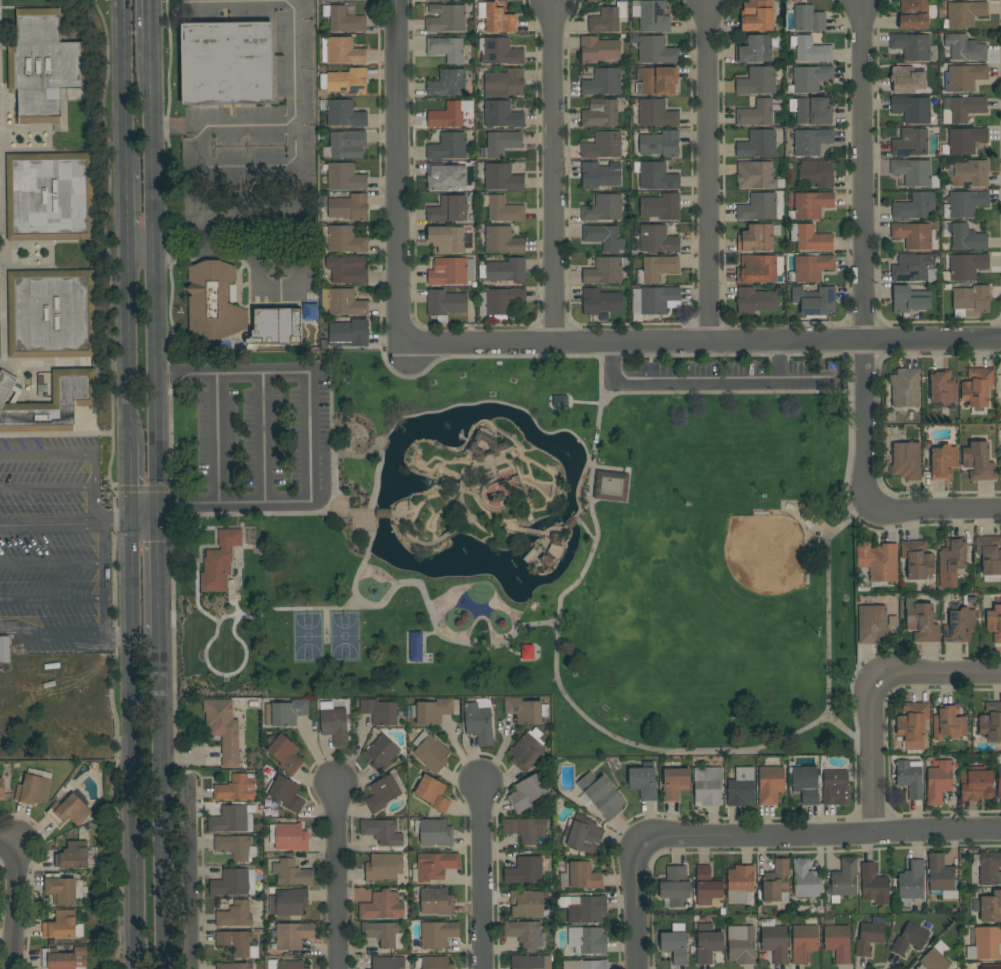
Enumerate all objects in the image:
building: (343, 0)
building: (437, 0)
building: (915, 14)
building: (965, 14)
building: (757, 15)
building: (651, 16)
building: (445, 18)
building: (496, 18)
building: (343, 19)
building: (607, 19)
building: (808, 19)
road: (151, 31)
building: (912, 46)
building: (964, 48)
building: (447, 49)
building: (756, 49)
building: (598, 50)
building: (656, 50)
building: (810, 50)
building: (343, 51)
building: (499, 51)
building: (226, 63)
building: (43, 65)
building: (906, 78)
building: (964, 78)
building: (809, 79)
building: (659, 80)
building: (347, 81)
building: (758, 81)
building: (449, 82)
building: (602, 82)
building: (504, 83)
road: (124, 84)
building: (912, 109)
building: (962, 109)
building: (813, 111)
building: (759, 112)
building: (600, 113)
building: (654, 113)
building: (344, 114)
building: (449, 114)
building: (501, 114)
road: (284, 124)
building: (809, 141)
building: (964, 141)
building: (910, 143)
building: (501, 144)
building: (660, 144)
building: (758, 144)
building: (345, 145)
building: (603, 145)
building: (448, 146)
road: (862, 170)
road: (708, 171)
building: (913, 171)
road: (397, 172)
road: (552, 172)
building: (972, 173)
building: (817, 174)
building: (600, 175)
building: (755, 175)
building: (655, 176)
building: (344, 177)
building: (444, 177)
building: (502, 178)
building: (50, 196)
building: (964, 204)
building: (811, 205)
building: (914, 206)
road: (126, 207)
building: (349, 207)
building: (661, 207)
building: (759, 207)
building: (603, 208)
building: (448, 209)
building: (504, 210)
building: (915, 236)
building: (604, 237)
building: (757, 238)
building: (810, 238)
building: (967, 238)
building: (446, 239)
building: (657, 239)
building: (343, 240)
building: (502, 240)
road: (210, 244)
building: (810, 267)
building: (965, 267)
building: (656, 268)
building: (914, 268)
building: (347, 269)
building: (759, 269)
building: (504, 271)
building: (605, 271)
building: (452, 272)
road: (155, 293)
building: (655, 299)
building: (909, 300)
building: (213, 301)
building: (601, 301)
building: (755, 301)
building: (971, 301)
building: (343, 302)
building: (499, 302)
building: (818, 302)
building: (445, 303)
building: (51, 314)
building: (275, 327)
building: (349, 333)
road: (700, 342)
road: (128, 347)
road: (805, 355)
road: (540, 356)
road: (665, 356)
road: (167, 386)
building: (942, 387)
building: (977, 387)
building: (905, 388)
building: (42, 391)
building: (74, 391)
road: (497, 402)
road: (310, 436)
road: (218, 438)
road: (264, 438)
building: (498, 446)
road: (424, 447)
road: (80, 455)
road: (499, 459)
building: (906, 461)
building: (978, 461)
building: (943, 462)
road: (551, 474)
road: (541, 482)
road: (130, 485)
road: (333, 485)
building: (611, 486)
road: (47, 489)
road: (863, 492)
road: (541, 495)
building: (496, 498)
building: (383, 513)
road: (383, 514)
road: (52, 523)
road: (132, 524)
road: (571, 525)
road: (528, 530)
road: (553, 530)
park: (524, 540)
road: (428, 543)
parking lot: (51, 545)
park: (766, 553)
building: (989, 554)
building: (545, 558)
building: (917, 559)
building: (219, 561)
building: (951, 561)
building: (883, 563)
road: (53, 564)
road: (160, 568)
road: (53, 598)
road: (828, 604)
building: (921, 621)
building: (994, 623)
building: (872, 624)
building: (959, 624)
road: (106, 634)
park: (345, 636)
road: (118, 637)
park: (308, 637)
road: (452, 639)
building: (4, 649)
building: (216, 652)
road: (945, 674)
building: (431, 711)
building: (526, 711)
building: (285, 712)
building: (379, 712)
building: (479, 721)
building: (991, 721)
building: (948, 722)
building: (333, 724)
building: (912, 724)
building: (223, 729)
road: (131, 746)
road: (871, 749)
building: (525, 752)
building: (284, 753)
building: (382, 753)
building: (432, 753)
building: (910, 778)
building: (643, 781)
building: (939, 782)
building: (999, 782)
building: (674, 783)
building: (805, 783)
building: (770, 785)
building: (707, 786)
building: (977, 786)
building: (34, 787)
building: (741, 787)
building: (236, 788)
building: (835, 788)
building: (2, 789)
road: (163, 790)
building: (528, 792)
building: (382, 793)
building: (432, 793)
building: (286, 794)
building: (601, 795)
building: (70, 809)
building: (229, 819)
building: (526, 829)
building: (382, 831)
building: (434, 832)
road: (812, 835)
building: (288, 837)
building: (584, 837)
road: (7, 844)
building: (236, 848)
building: (73, 856)
building: (435, 866)
building: (383, 867)
building: (988, 868)
building: (524, 870)
building: (292, 873)
road: (190, 874)
road: (336, 874)
road: (480, 875)
building: (580, 876)
building: (941, 876)
building: (844, 879)
building: (806, 880)
building: (234, 882)
building: (776, 882)
building: (739, 883)
building: (911, 883)
building: (874, 885)
building: (675, 886)
building: (707, 886)
building: (61, 889)
building: (436, 901)
building: (288, 902)
building: (526, 904)
road: (15, 906)
building: (382, 906)
building: (991, 908)
building: (586, 909)
building: (235, 915)
road: (634, 915)
building: (62, 926)
building: (524, 933)
building: (383, 934)
building: (437, 934)
building: (291, 936)
building: (870, 936)
building: (909, 938)
building: (587, 940)
building: (774, 940)
building: (804, 941)
building: (238, 943)
building: (708, 943)
building: (838, 943)
building: (741, 944)
building: (986, 944)
building: (674, 946)
building: (64, 959)
building: (934, 960)
building: (388, 962)
building: (530, 962)
building: (433, 963)
building: (285, 964)
building: (585, 964)
building: (234, 966)
building: (991, 966)

